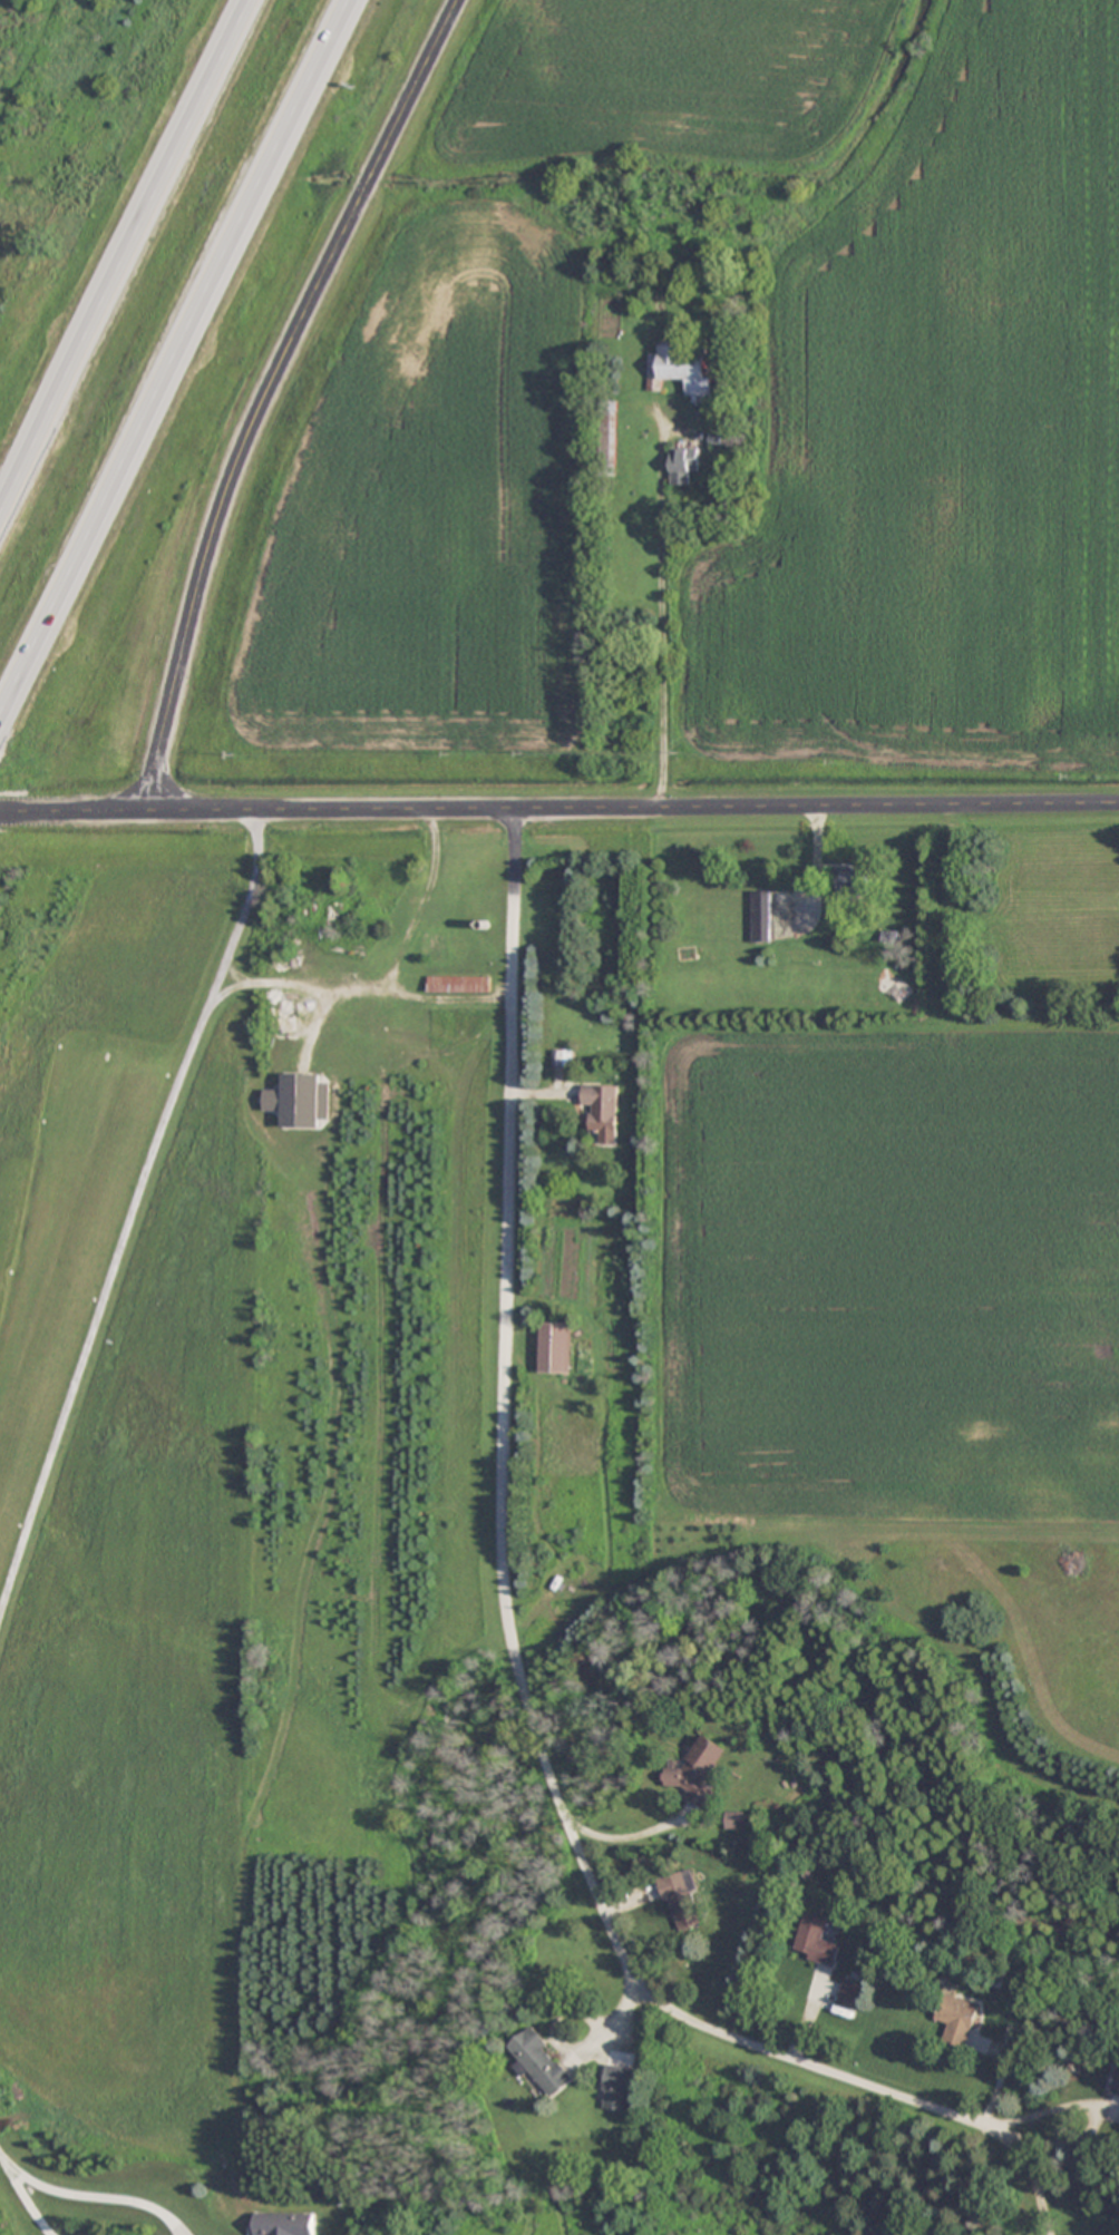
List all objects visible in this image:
road: (124, 252)
road: (175, 355)
building: (682, 370)
road: (265, 391)
building: (607, 438)
building: (685, 465)
road: (558, 804)
building: (857, 880)
building: (759, 916)
road: (214, 978)
road: (313, 982)
building: (458, 984)
road: (445, 995)
building: (563, 1058)
building: (602, 1105)
road: (105, 1277)
airport runway: (77, 1299)
building: (556, 1347)
road: (505, 1595)
building: (697, 1769)
building: (681, 1899)
building: (816, 1940)
building: (850, 1994)
building: (957, 2018)
building: (542, 2061)
building: (620, 2078)
building: (1113, 2097)
road: (8, 2159)
road: (104, 2193)
road: (27, 2203)
building: (285, 2223)

